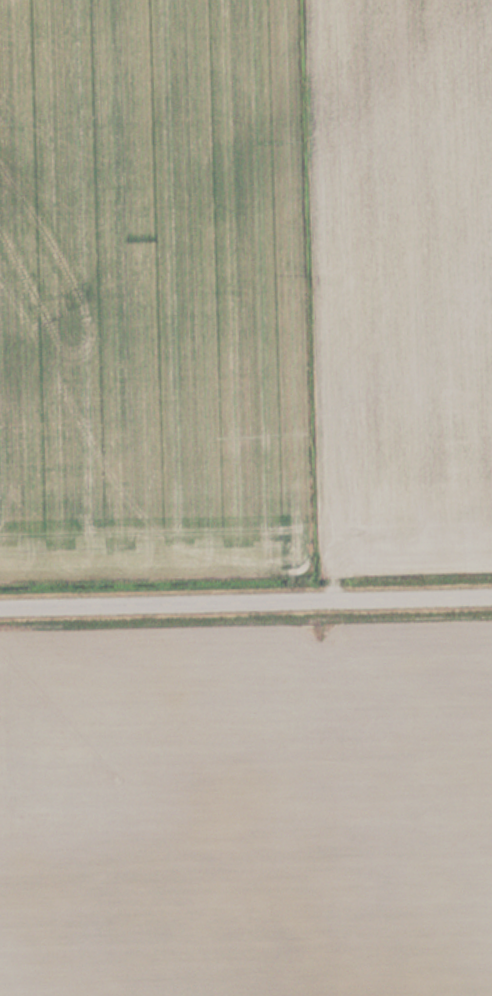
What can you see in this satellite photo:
road: (246, 600)

